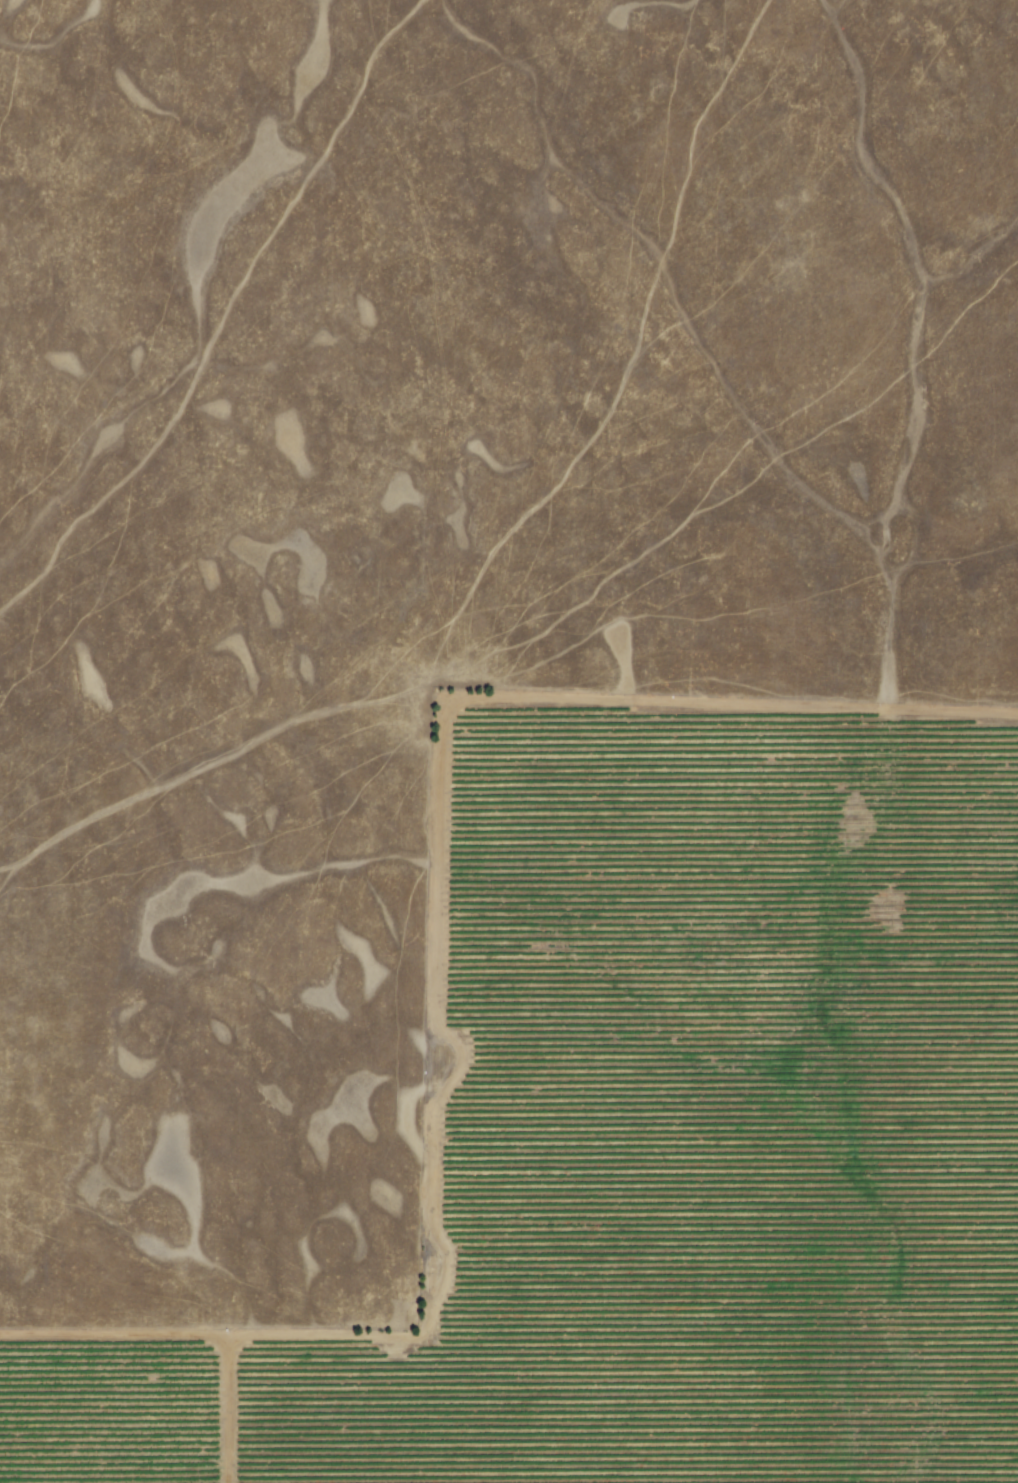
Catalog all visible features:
crop: (659, 1124)

